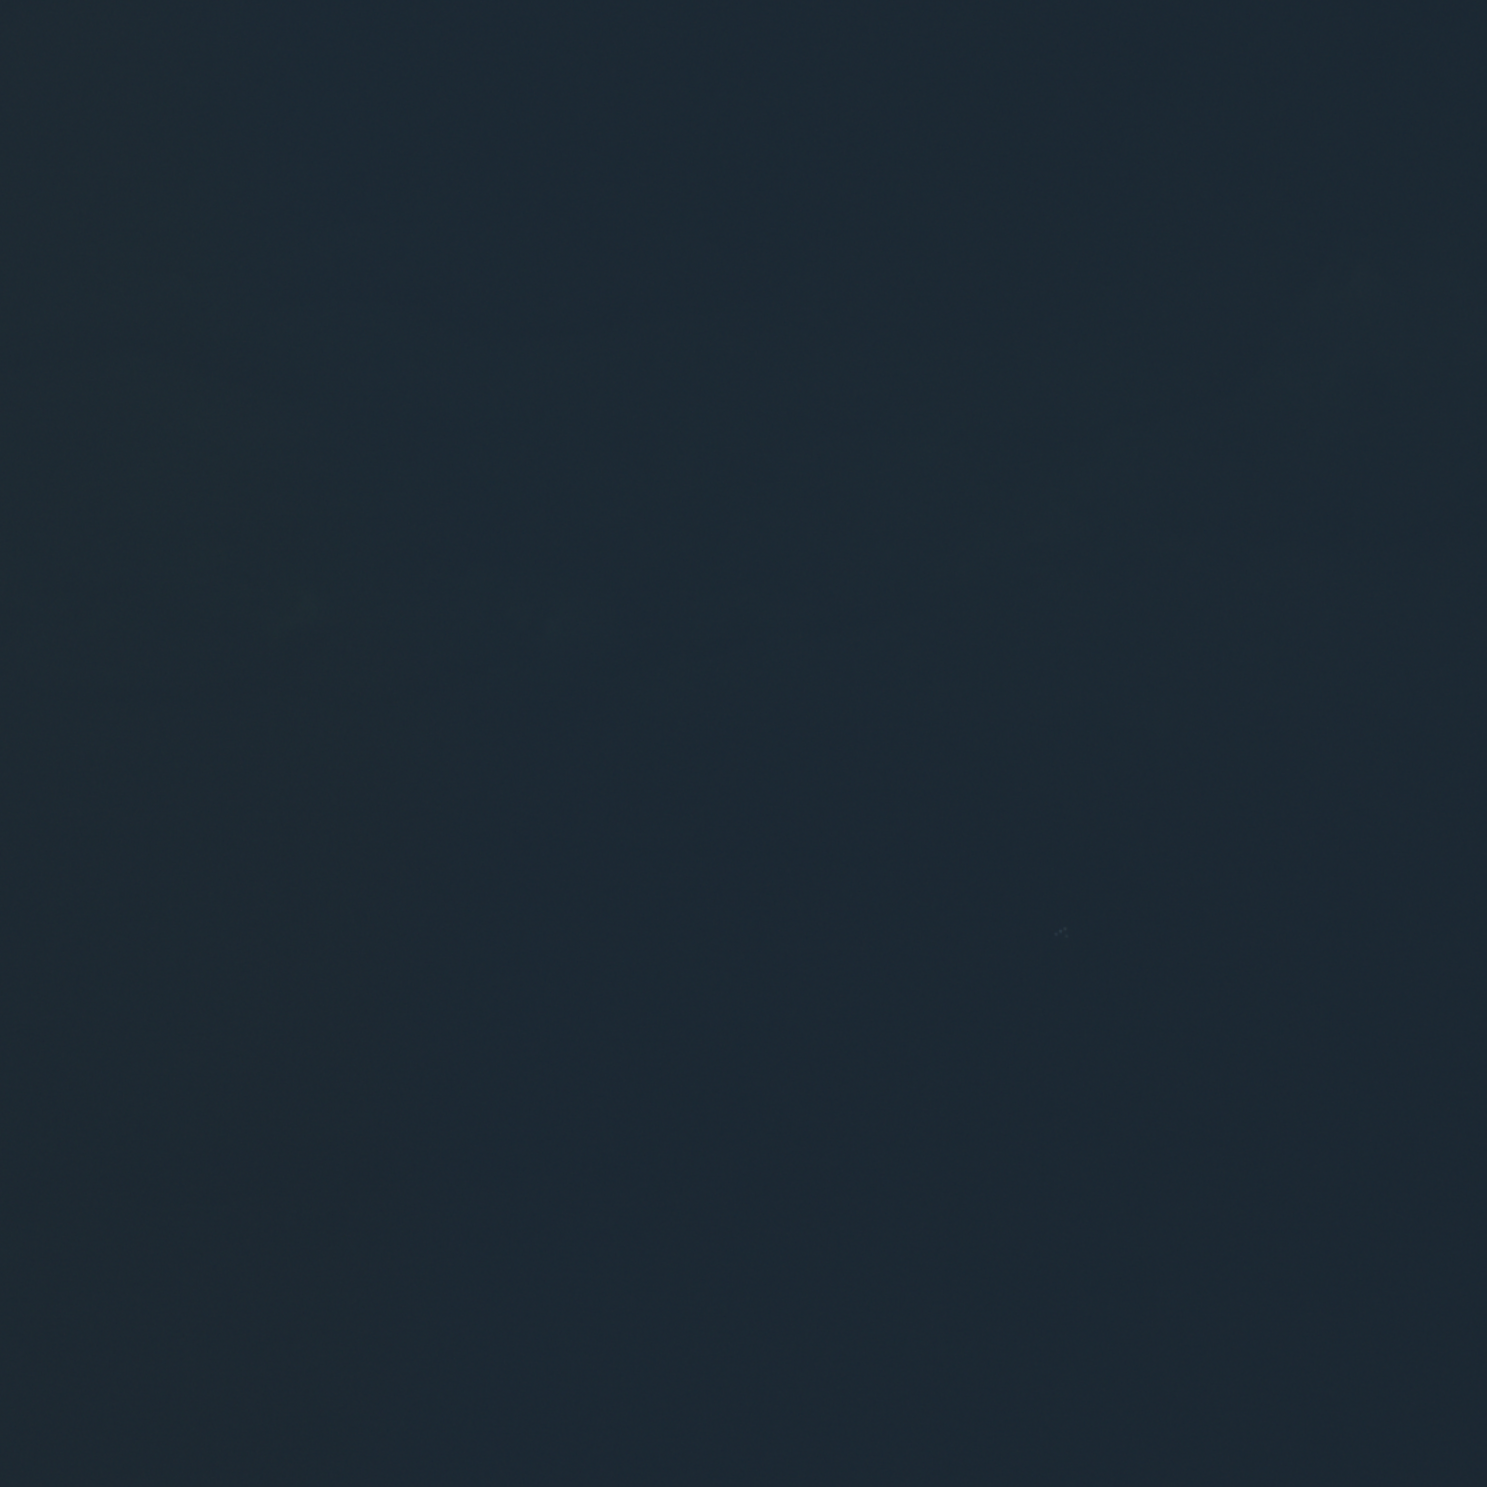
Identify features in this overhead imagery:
river: (743, 1271)

